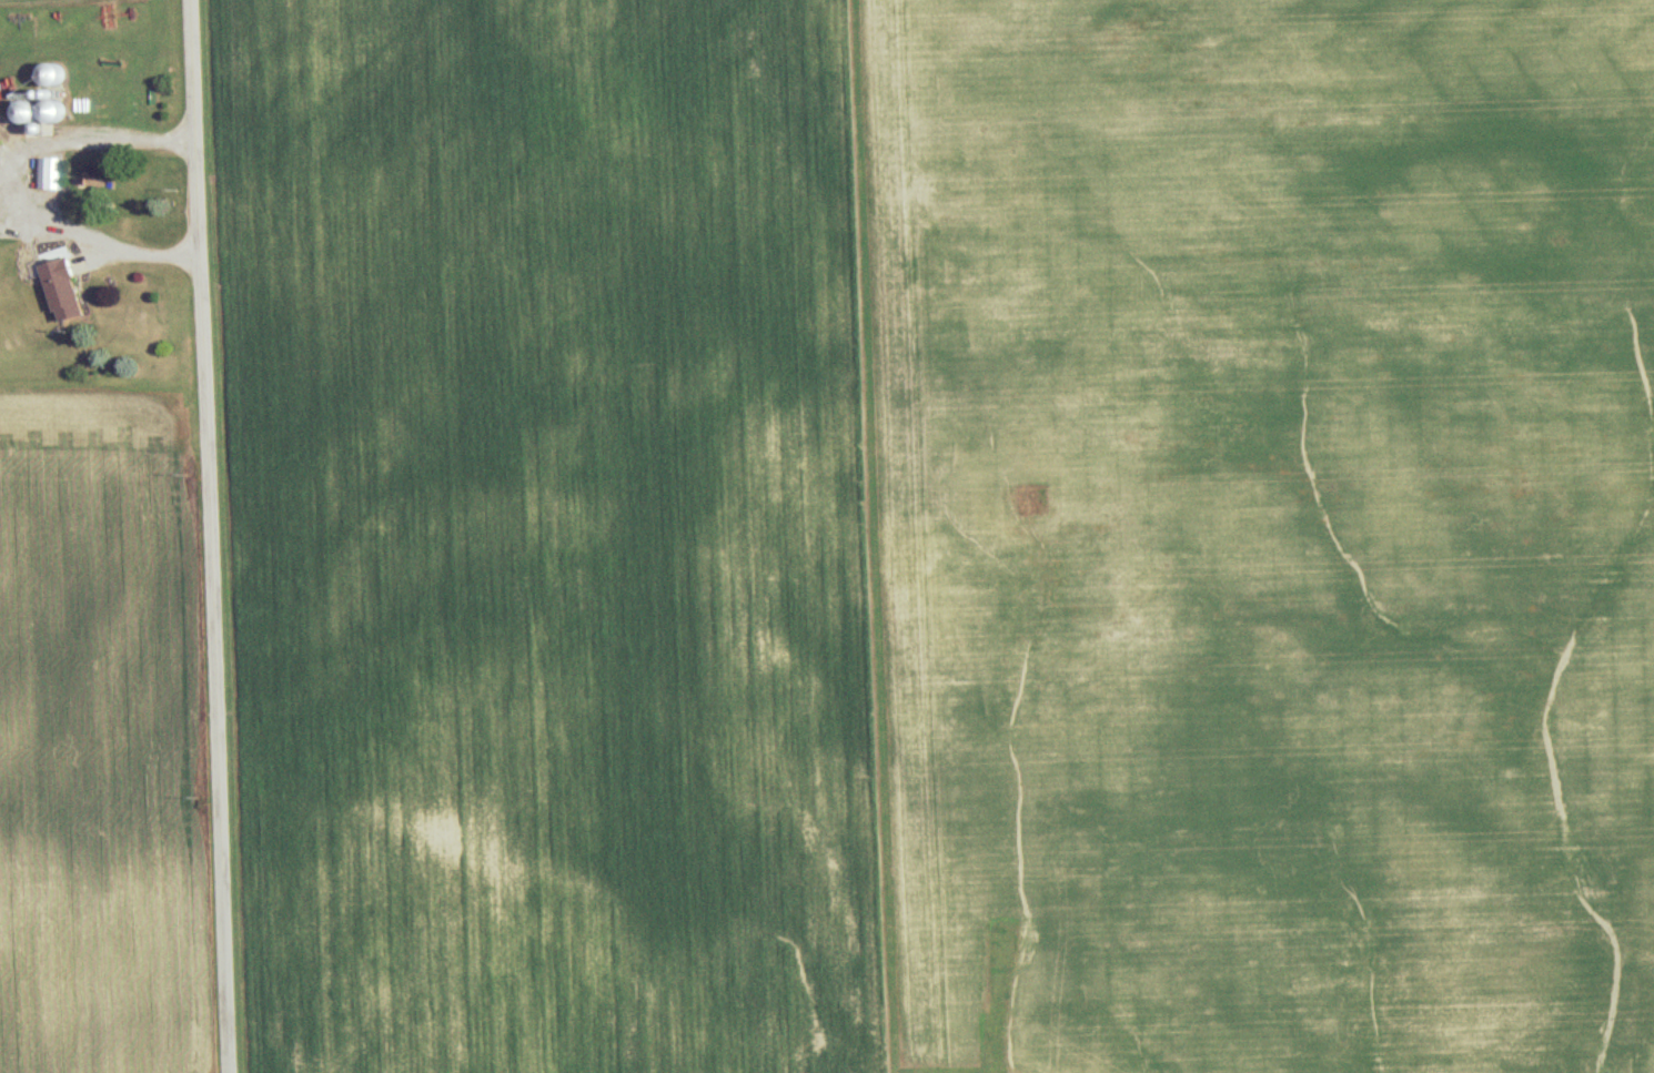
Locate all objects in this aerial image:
building: (50, 171)
road: (7, 180)
building: (69, 287)
road: (202, 536)

